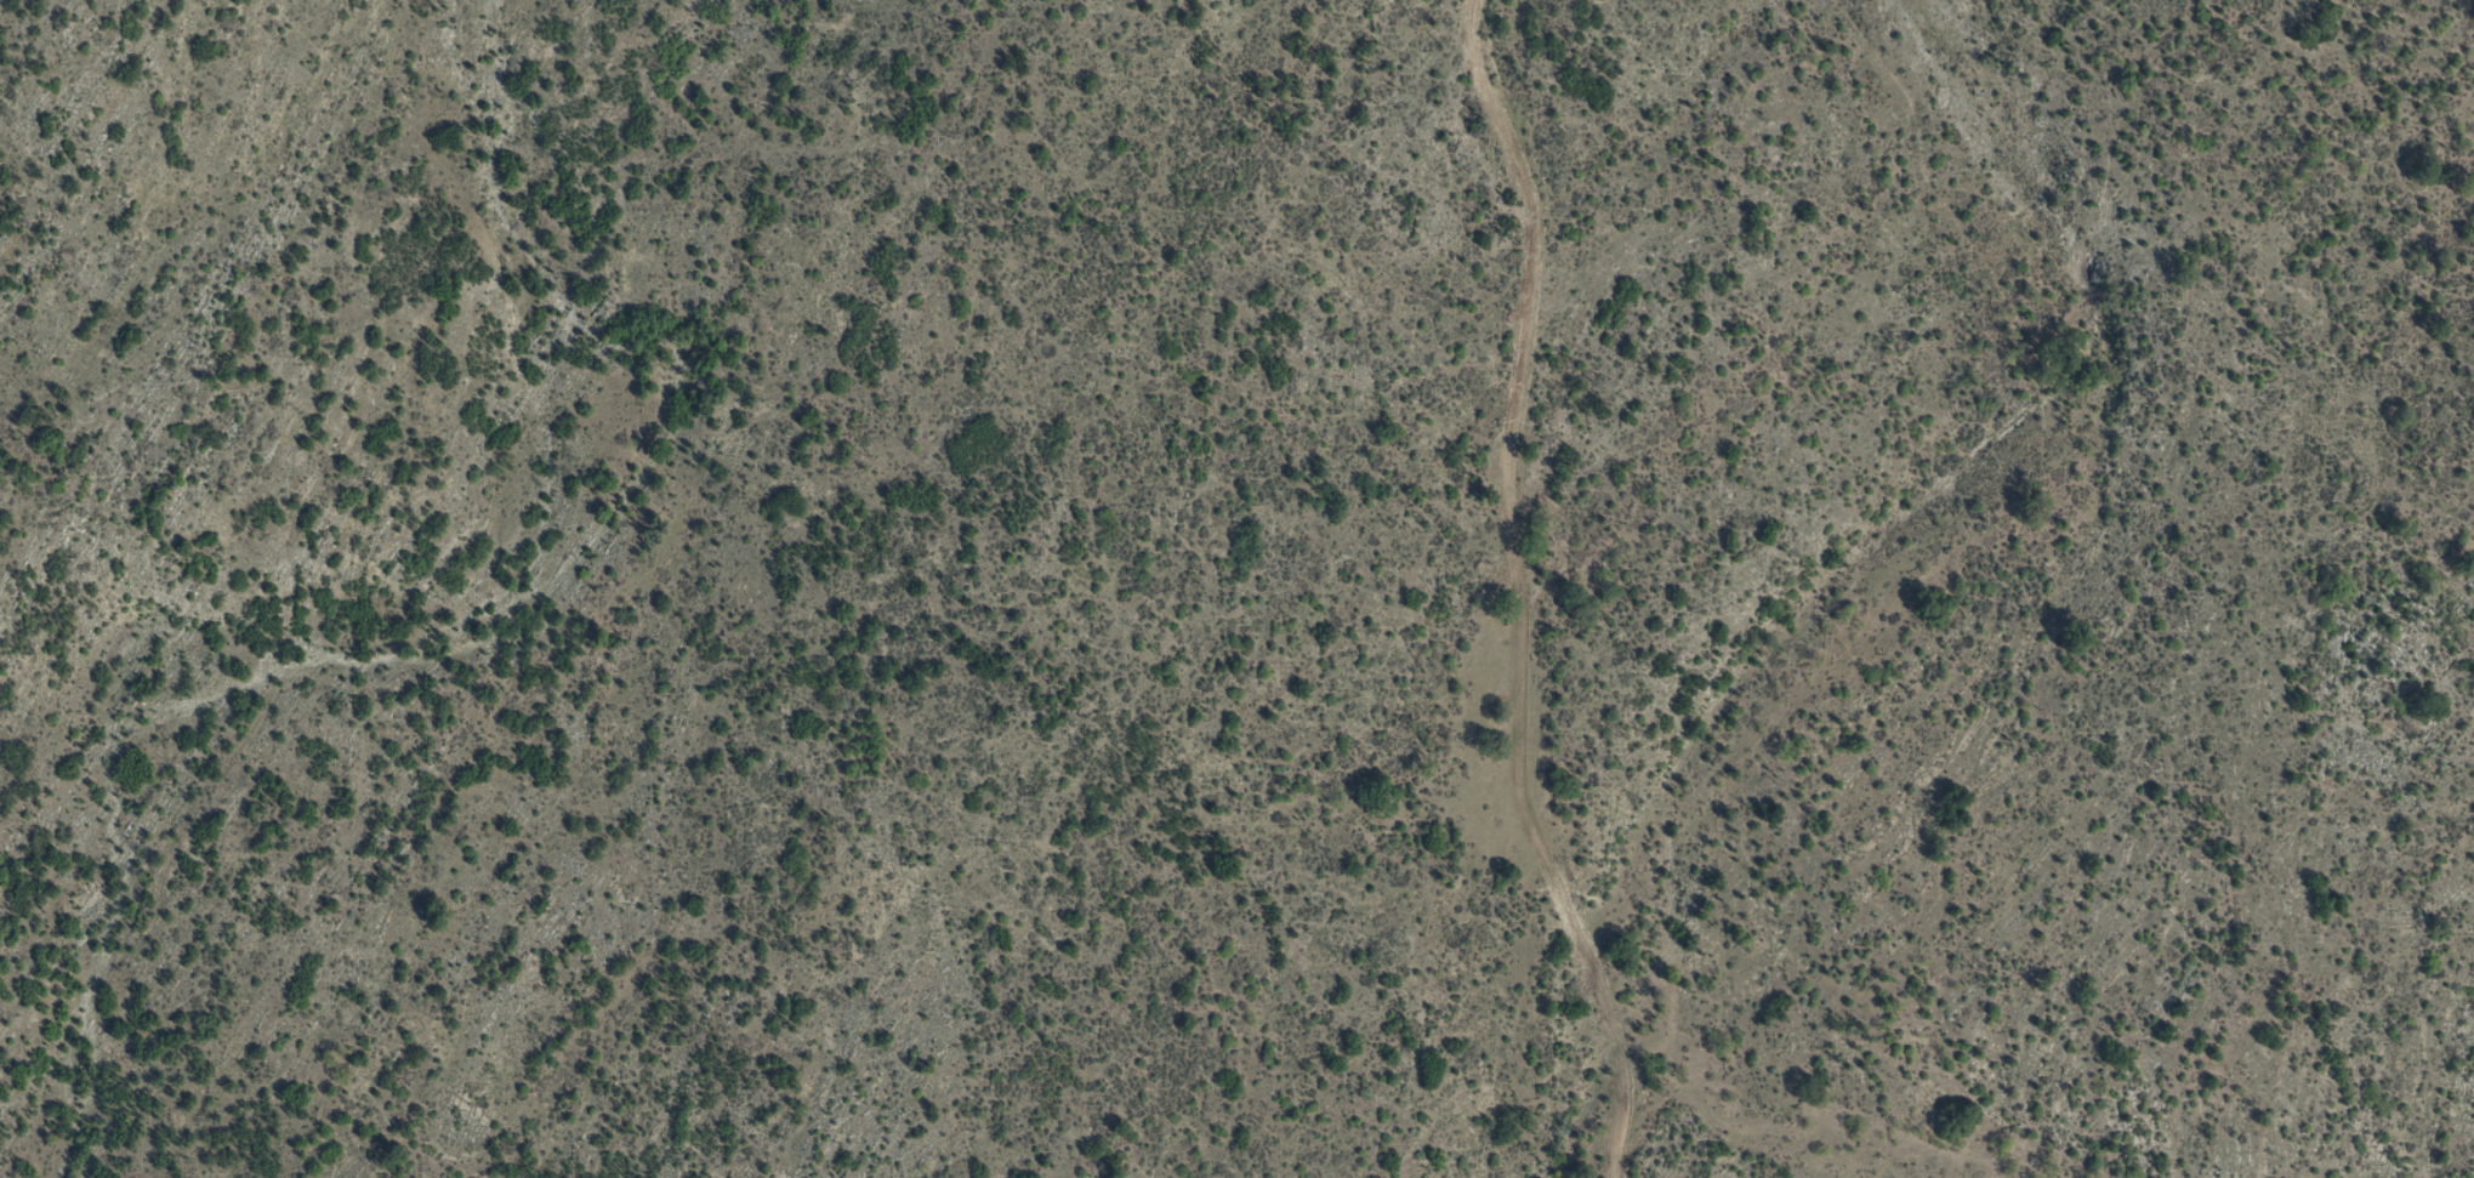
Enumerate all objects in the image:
road: (1952, 615)

